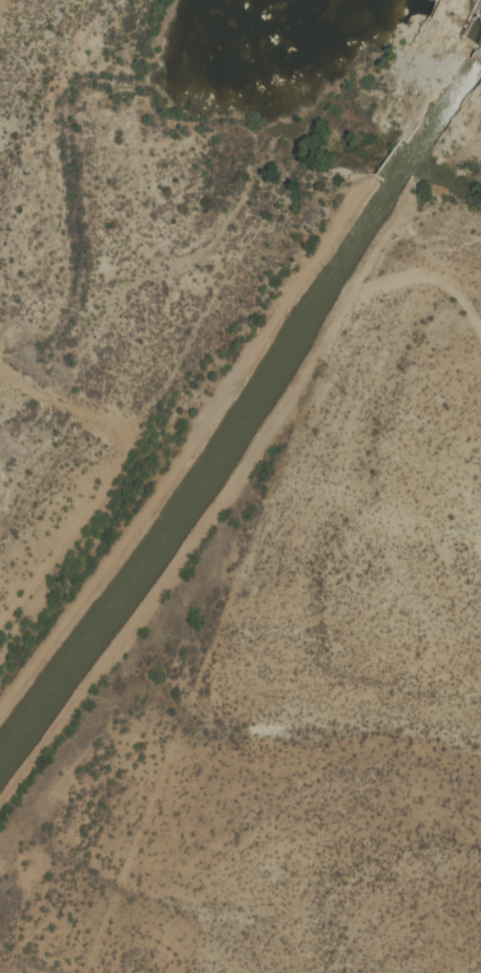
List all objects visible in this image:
river: (464, 4)
dam: (465, 16)
river: (65, 80)
road: (441, 283)

